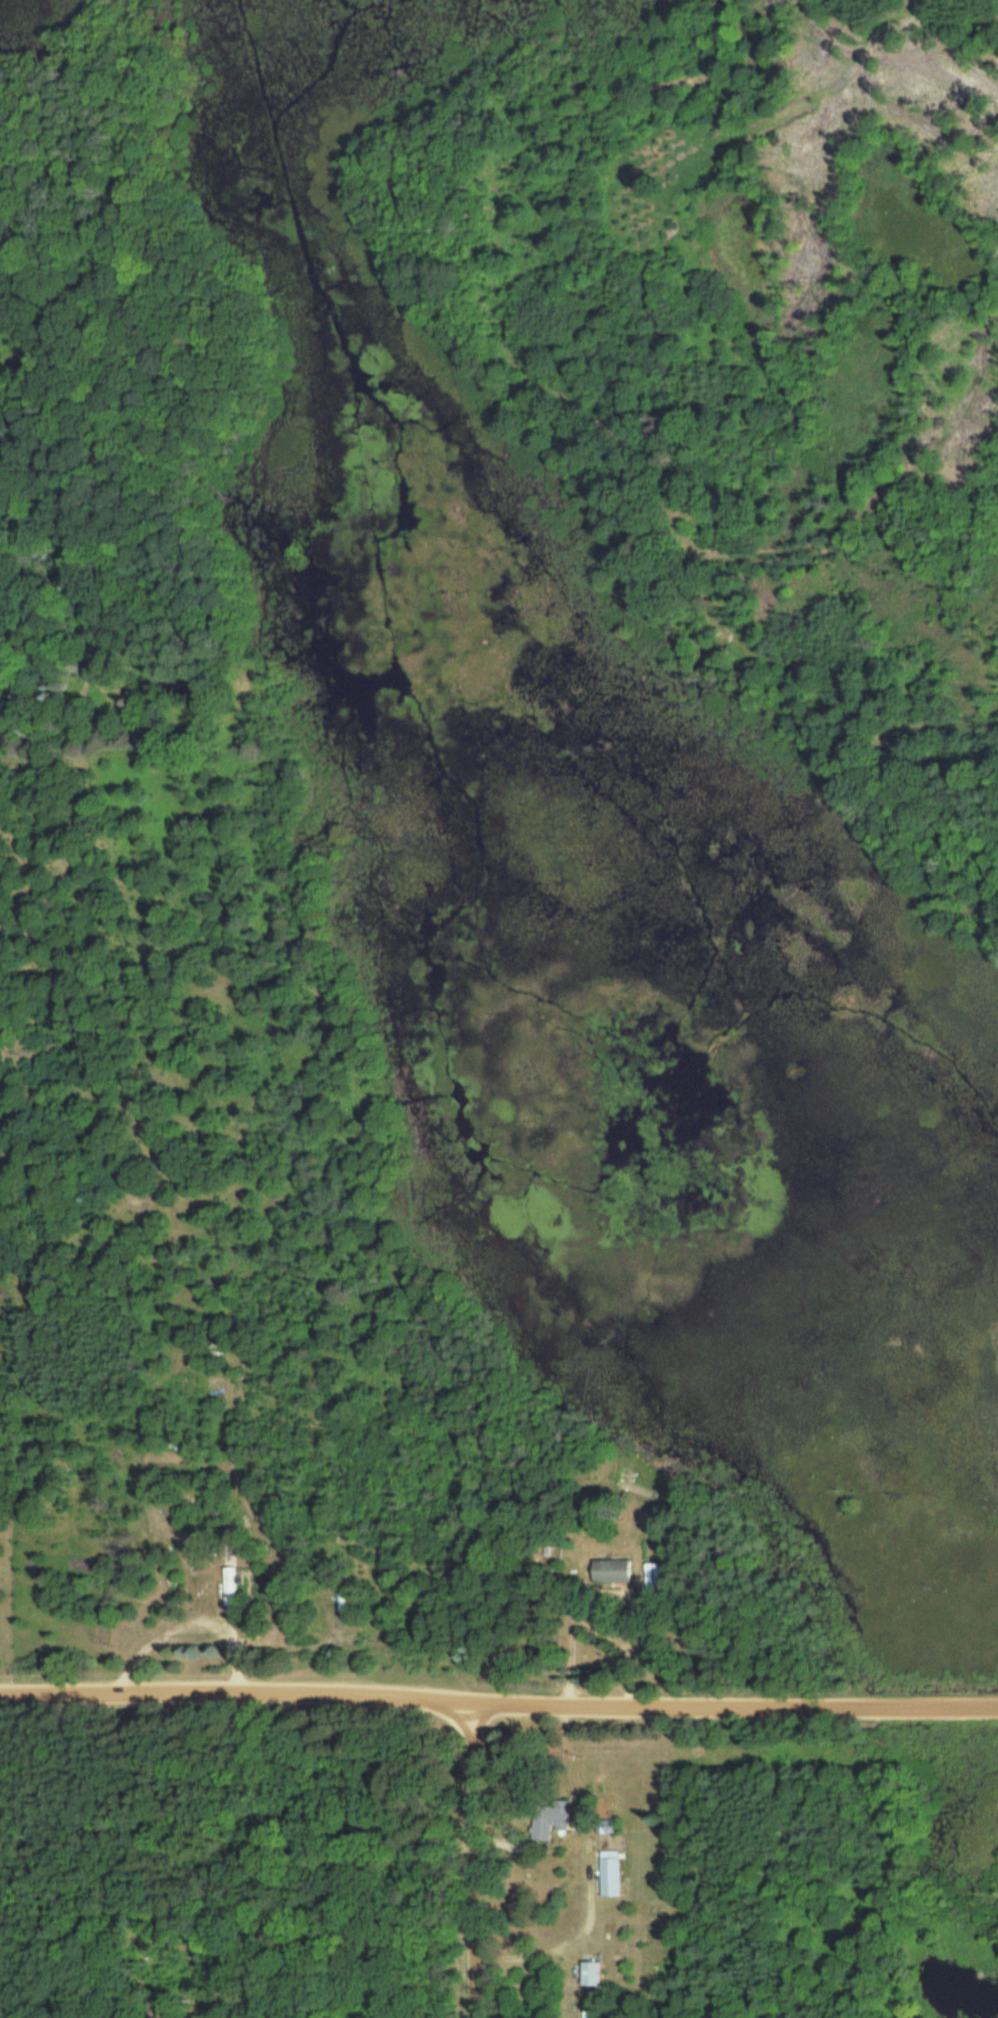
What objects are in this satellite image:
road: (956, 45)
road: (892, 485)
building: (133, 1201)
building: (231, 1540)
building: (614, 1571)
building: (654, 1574)
building: (234, 1585)
road: (622, 1642)
road: (498, 1705)
building: (547, 1817)
road: (477, 1861)
building: (607, 1873)
road: (592, 1875)
building: (587, 1972)

